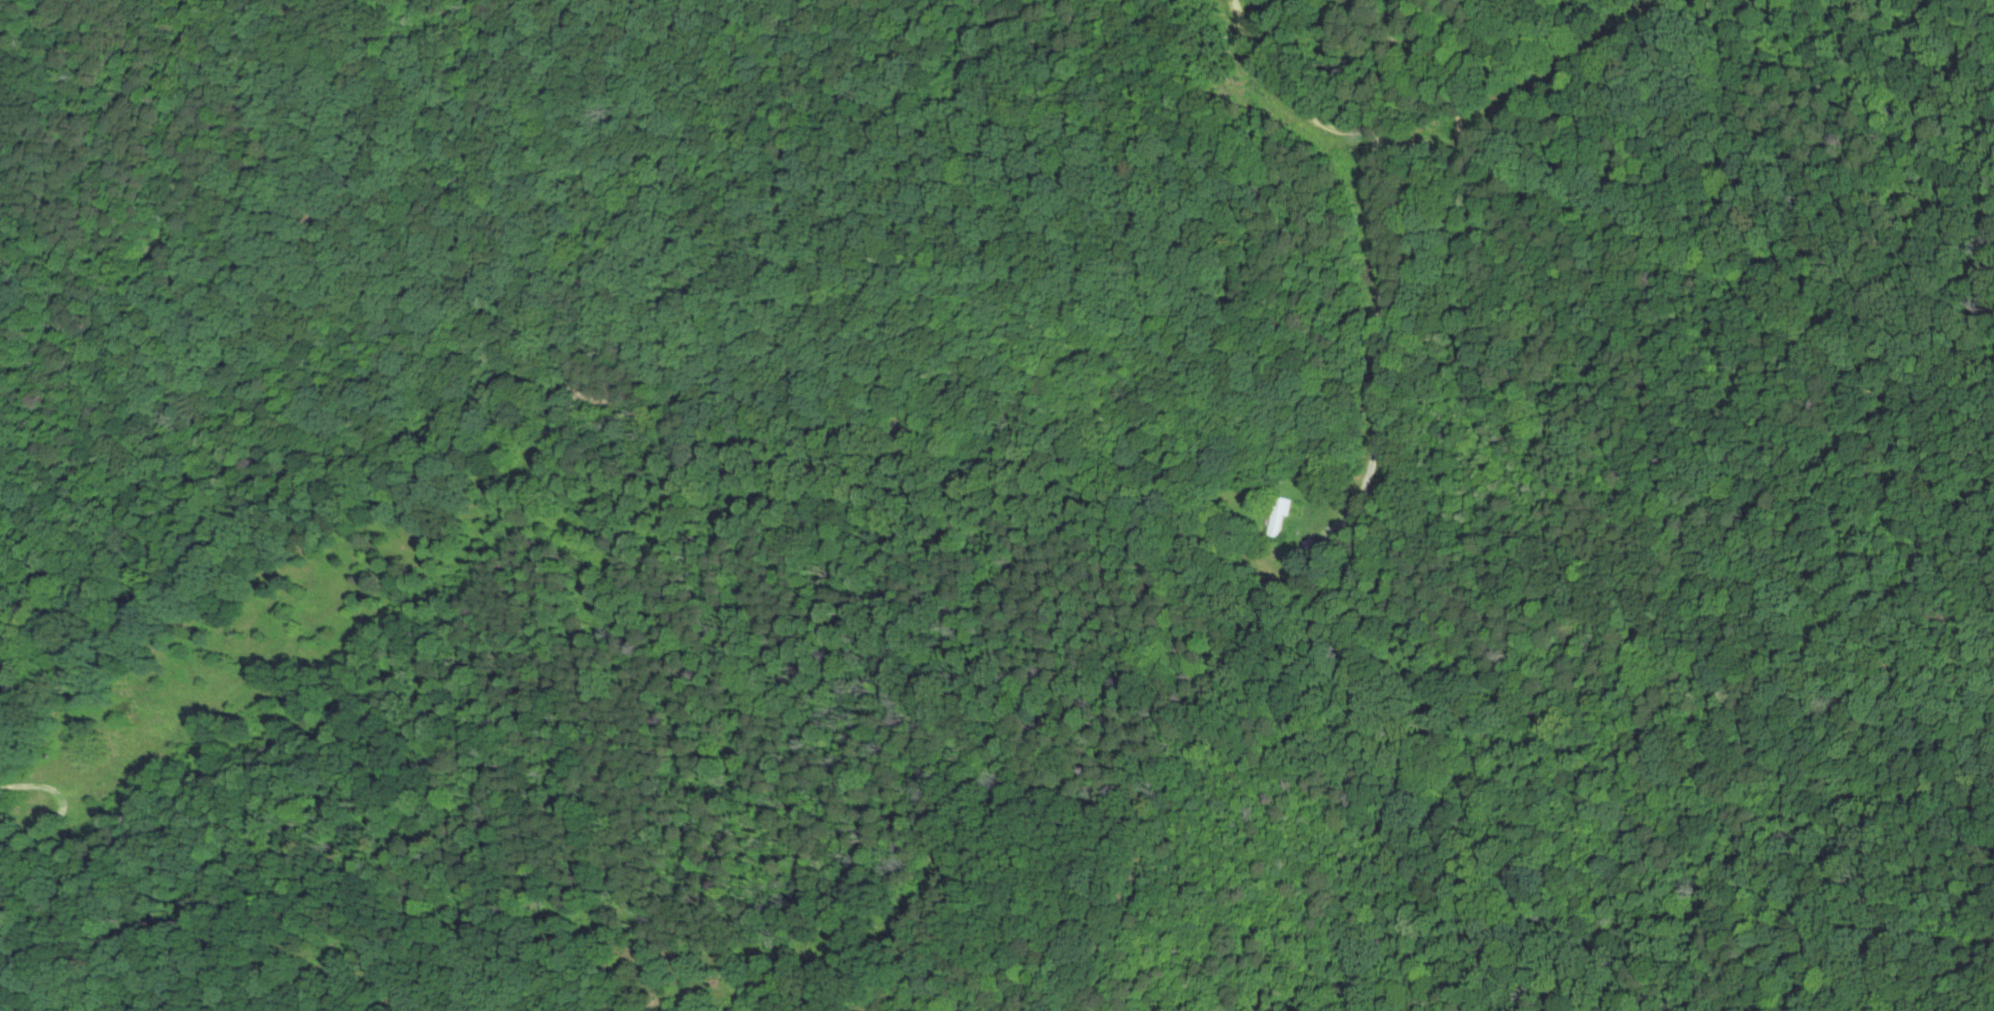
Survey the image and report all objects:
road: (1275, 94)
road: (1384, 266)
building: (1280, 518)

